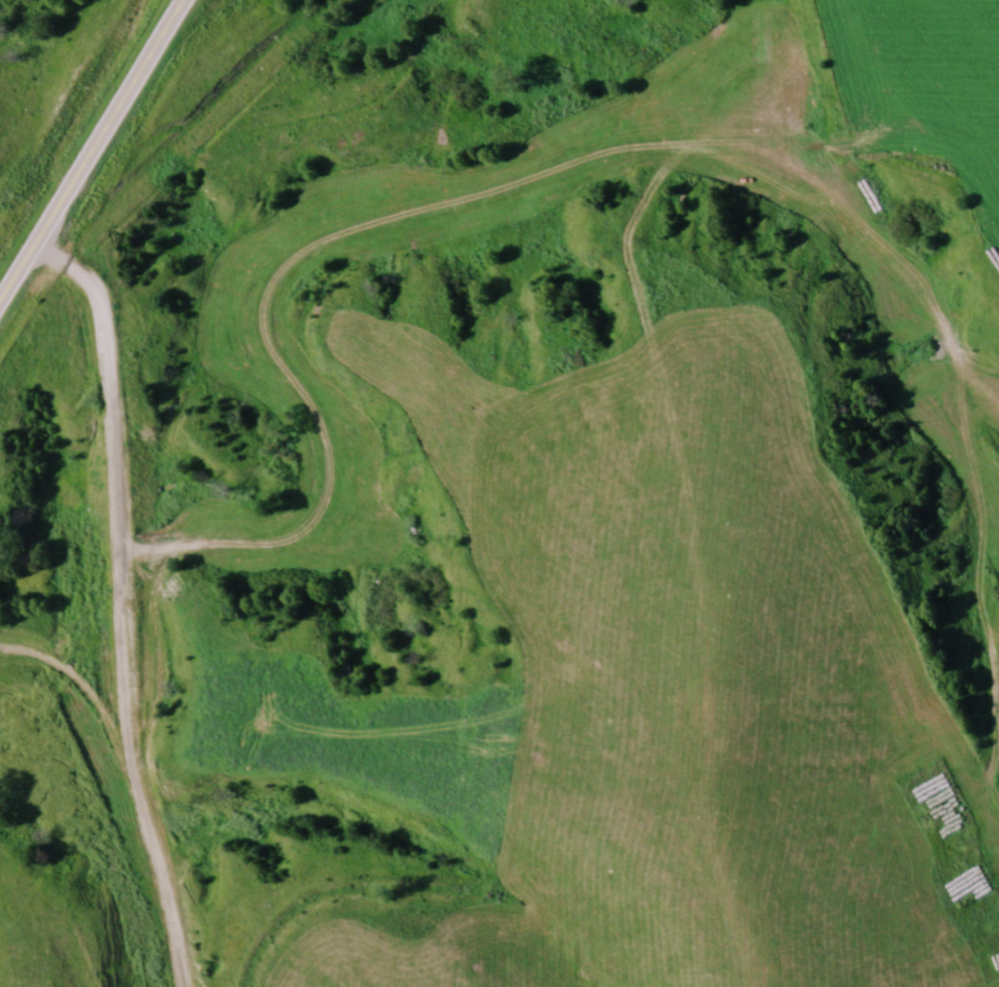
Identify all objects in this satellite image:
road: (93, 151)
road: (136, 786)

